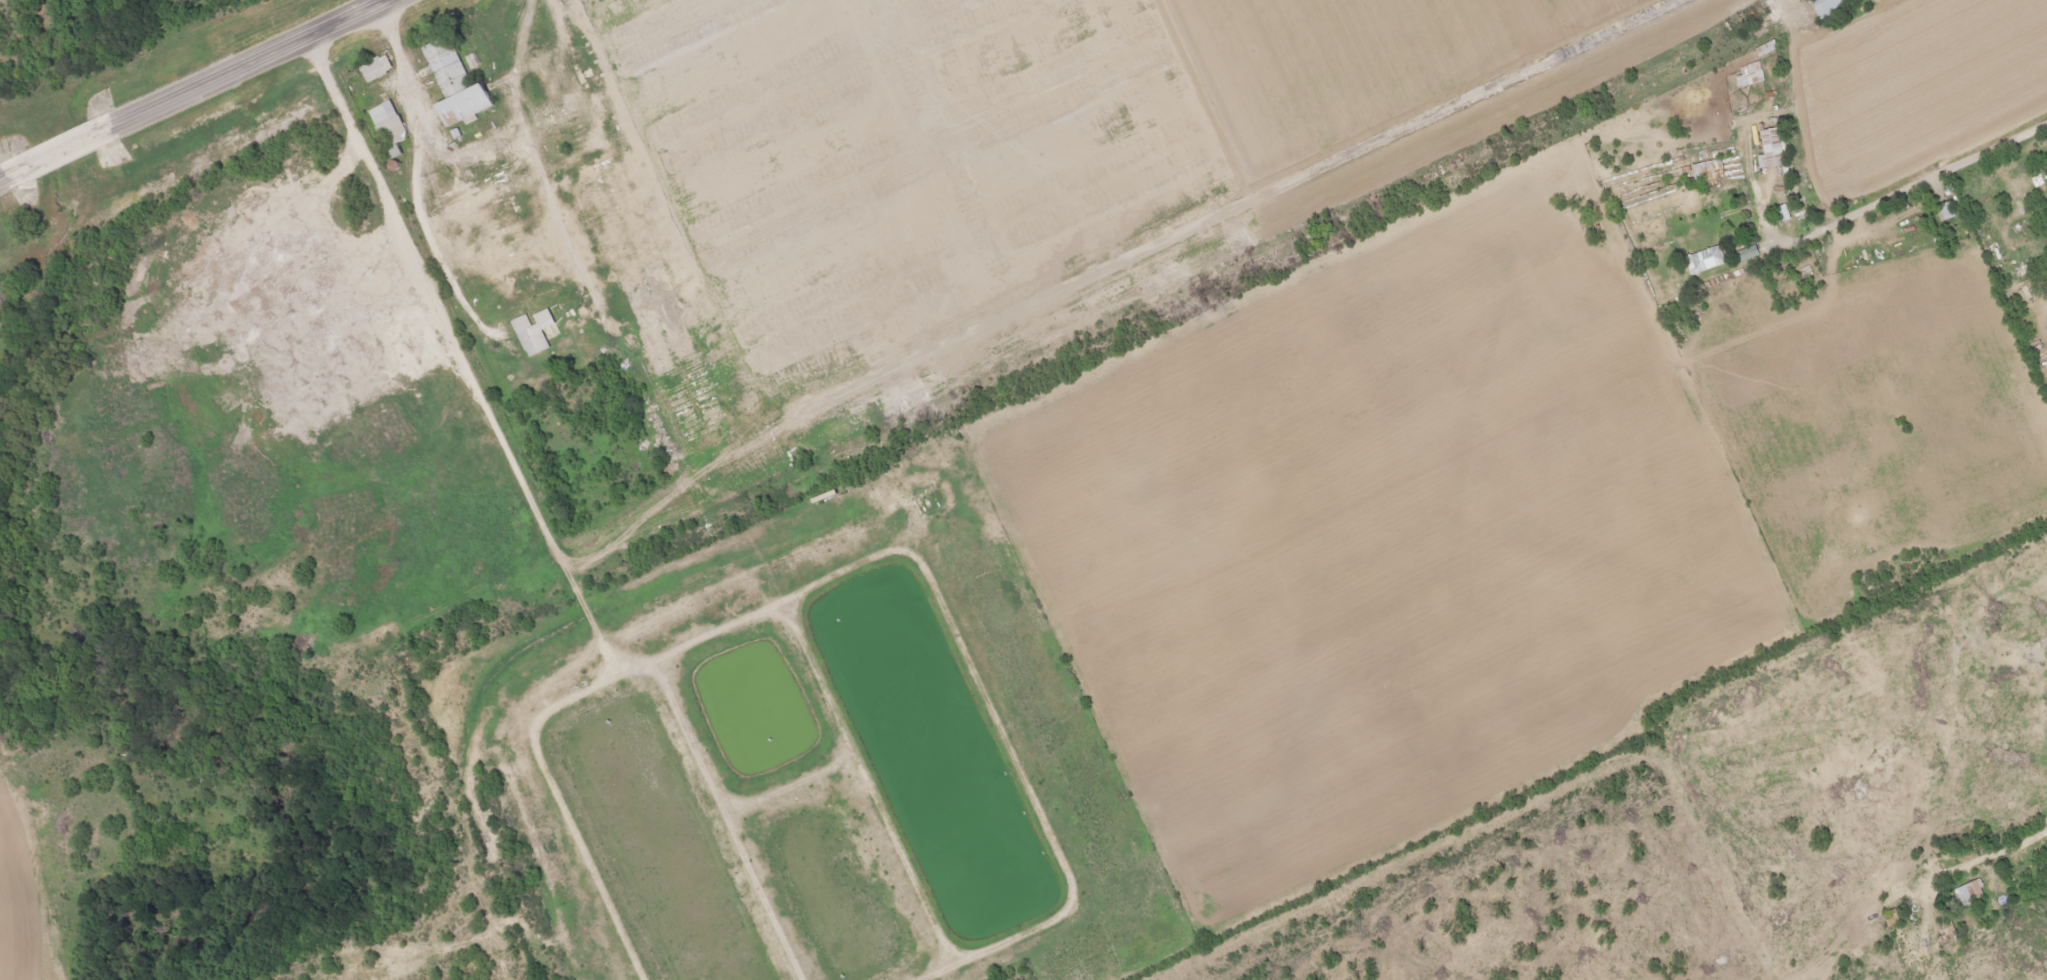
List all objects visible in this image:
building: (1827, 7)
building: (378, 69)
building: (1747, 77)
building: (458, 86)
road: (193, 92)
building: (388, 117)
building: (1770, 149)
building: (1707, 173)
road: (1915, 184)
airport runway: (1240, 207)
building: (1945, 212)
road: (558, 214)
building: (1704, 261)
building: (535, 333)
road: (2020, 512)
road: (2027, 843)
building: (1968, 894)
building: (1946, 930)

